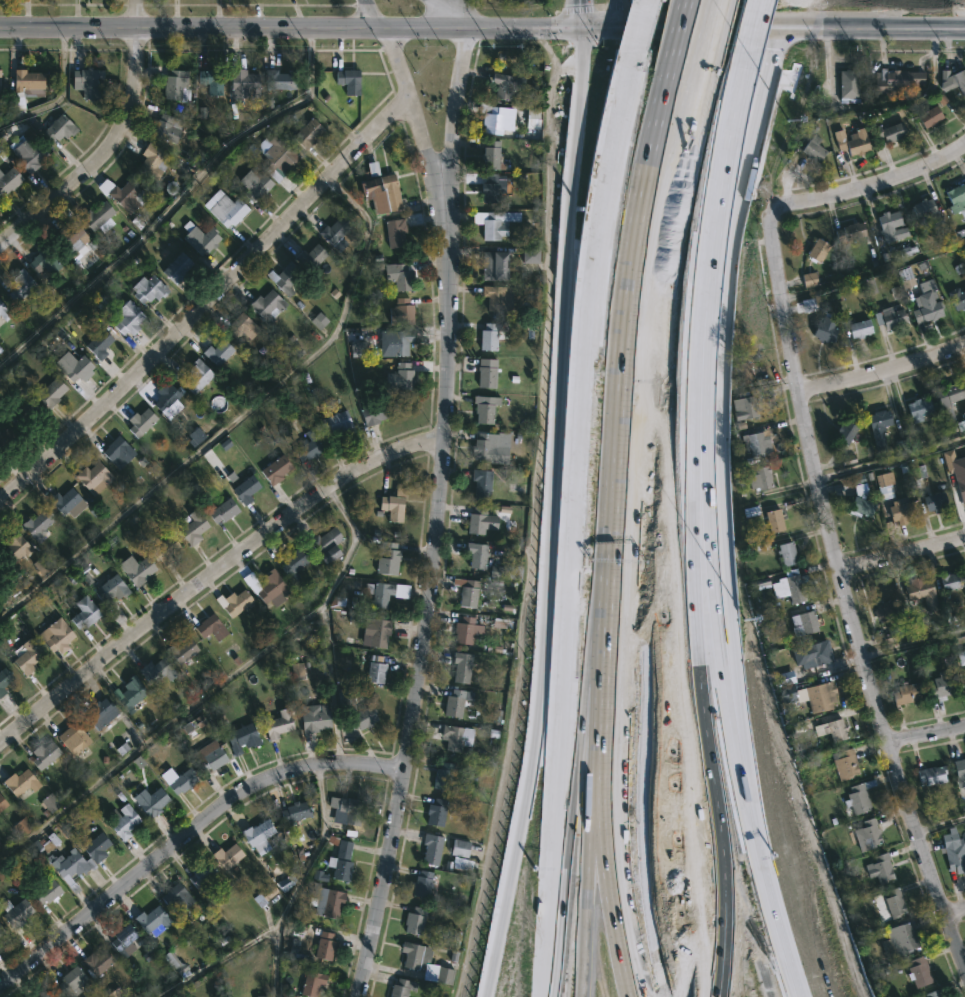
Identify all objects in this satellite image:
road: (451, 12)
road: (580, 12)
road: (613, 12)
road: (374, 14)
road: (480, 25)
traffic signals: (580, 25)
road: (681, 26)
road: (191, 28)
road: (873, 29)
road: (640, 38)
road: (748, 39)
road: (710, 43)
road: (775, 55)
building: (24, 80)
building: (211, 80)
building: (278, 80)
building: (346, 80)
building: (895, 80)
building: (952, 80)
building: (85, 82)
building: (243, 84)
building: (506, 84)
building: (847, 84)
building: (176, 85)
road: (455, 111)
building: (928, 117)
building: (493, 118)
building: (533, 120)
road: (421, 123)
building: (57, 128)
building: (165, 128)
building: (305, 133)
road: (757, 133)
building: (886, 133)
building: (853, 142)
road: (109, 143)
building: (812, 149)
building: (25, 153)
building: (491, 156)
building: (277, 157)
road: (682, 158)
building: (150, 161)
road: (721, 163)
building: (9, 180)
building: (253, 185)
building: (490, 189)
road: (862, 189)
building: (378, 191)
building: (121, 195)
building: (955, 198)
building: (223, 208)
building: (922, 208)
building: (96, 217)
building: (886, 224)
building: (489, 225)
building: (333, 230)
building: (848, 232)
building: (393, 233)
road: (593, 234)
building: (64, 238)
building: (198, 238)
building: (816, 251)
building: (309, 257)
building: (42, 260)
building: (492, 266)
building: (175, 268)
building: (397, 276)
building: (907, 277)
building: (283, 278)
building: (18, 286)
building: (146, 289)
building: (494, 297)
building: (956, 298)
road: (209, 301)
road: (707, 303)
building: (928, 303)
building: (265, 306)
building: (399, 313)
building: (3, 314)
building: (892, 315)
building: (126, 318)
building: (240, 327)
building: (858, 329)
building: (823, 331)
building: (487, 337)
building: (396, 339)
building: (97, 345)
building: (216, 353)
building: (72, 366)
road: (563, 368)
road: (883, 371)
building: (487, 373)
building: (195, 376)
building: (398, 378)
building: (48, 392)
building: (164, 398)
building: (950, 398)
building: (919, 406)
road: (649, 407)
building: (743, 408)
building: (483, 409)
building: (374, 413)
building: (29, 414)
road: (233, 417)
building: (877, 419)
building: (138, 422)
building: (960, 423)
building: (335, 424)
building: (844, 432)
building: (8, 436)
building: (756, 443)
building: (483, 446)
building: (308, 447)
building: (115, 453)
building: (273, 470)
building: (91, 478)
building: (759, 480)
building: (481, 483)
building: (883, 485)
building: (961, 487)
building: (243, 490)
building: (860, 497)
building: (63, 502)
building: (933, 502)
building: (391, 507)
building: (899, 510)
building: (221, 511)
building: (480, 520)
building: (773, 521)
building: (36, 524)
building: (192, 527)
road: (726, 532)
building: (324, 544)
building: (760, 545)
road: (584, 547)
building: (12, 548)
building: (163, 551)
road: (901, 553)
building: (383, 554)
building: (785, 554)
building: (475, 555)
building: (292, 562)
building: (41, 567)
building: (2, 570)
building: (135, 570)
building: (502, 570)
road: (213, 576)
building: (949, 581)
building: (270, 584)
building: (109, 588)
building: (788, 589)
building: (385, 592)
building: (465, 592)
building: (921, 594)
road: (846, 599)
building: (232, 601)
building: (884, 610)
building: (84, 612)
road: (426, 613)
road: (623, 613)
road: (324, 619)
road: (715, 620)
building: (797, 621)
building: (208, 626)
building: (376, 631)
building: (463, 631)
building: (55, 635)
road: (914, 643)
building: (180, 649)
building: (810, 654)
building: (25, 657)
building: (961, 658)
building: (460, 667)
building: (374, 669)
building: (154, 670)
building: (297, 671)
road: (693, 676)
building: (963, 677)
building: (3, 678)
building: (784, 678)
building: (942, 685)
building: (128, 693)
building: (905, 693)
building: (791, 695)
building: (819, 695)
road: (557, 696)
building: (343, 699)
building: (452, 703)
building: (99, 712)
building: (312, 717)
building: (360, 717)
building: (276, 723)
road: (161, 729)
building: (831, 729)
road: (926, 734)
building: (453, 736)
building: (240, 737)
building: (70, 738)
building: (42, 754)
building: (210, 758)
building: (844, 763)
building: (959, 772)
building: (932, 774)
building: (442, 775)
building: (18, 781)
building: (180, 781)
road: (685, 790)
road: (587, 792)
building: (857, 798)
building: (149, 800)
building: (1, 803)
building: (50, 803)
building: (344, 809)
building: (293, 811)
building: (435, 811)
building: (121, 820)
road: (941, 824)
building: (22, 827)
road: (185, 834)
building: (866, 834)
building: (256, 836)
building: (96, 847)
building: (430, 848)
building: (459, 848)
building: (953, 851)
road: (518, 854)
building: (225, 855)
building: (338, 858)
building: (461, 864)
building: (69, 866)
building: (879, 868)
building: (199, 873)
building: (319, 876)
road: (299, 880)
building: (419, 885)
building: (44, 892)
building: (265, 895)
building: (174, 896)
building: (327, 902)
building: (894, 902)
road: (955, 910)
building: (14, 912)
building: (149, 919)
building: (413, 920)
building: (0, 930)
building: (122, 939)
road: (775, 939)
building: (899, 940)
road: (593, 942)
building: (322, 946)
road: (216, 960)
building: (95, 962)
building: (178, 963)
building: (423, 963)
building: (917, 972)
building: (72, 982)
building: (311, 983)
building: (400, 988)
building: (43, 993)
building: (931, 994)
building: (261, 996)

